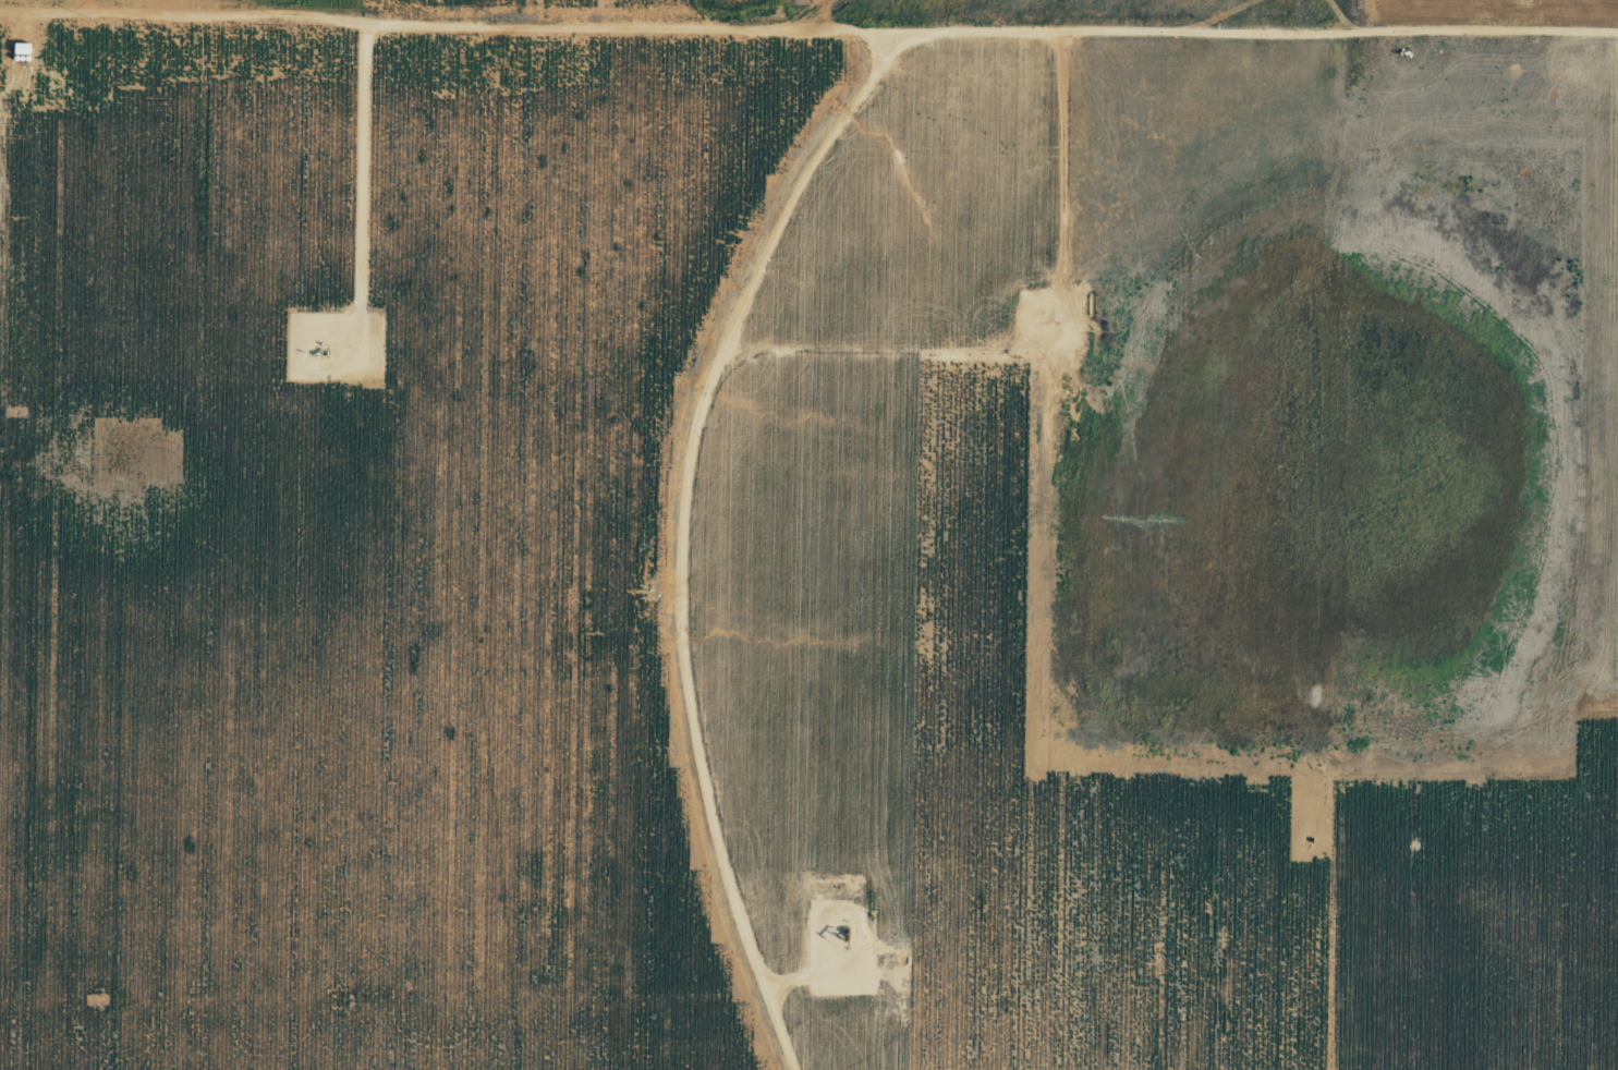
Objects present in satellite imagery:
road: (448, 25)
road: (1240, 37)
petroleum well: (316, 353)
road: (1374, 535)
road: (680, 538)
petroleum well: (842, 934)

